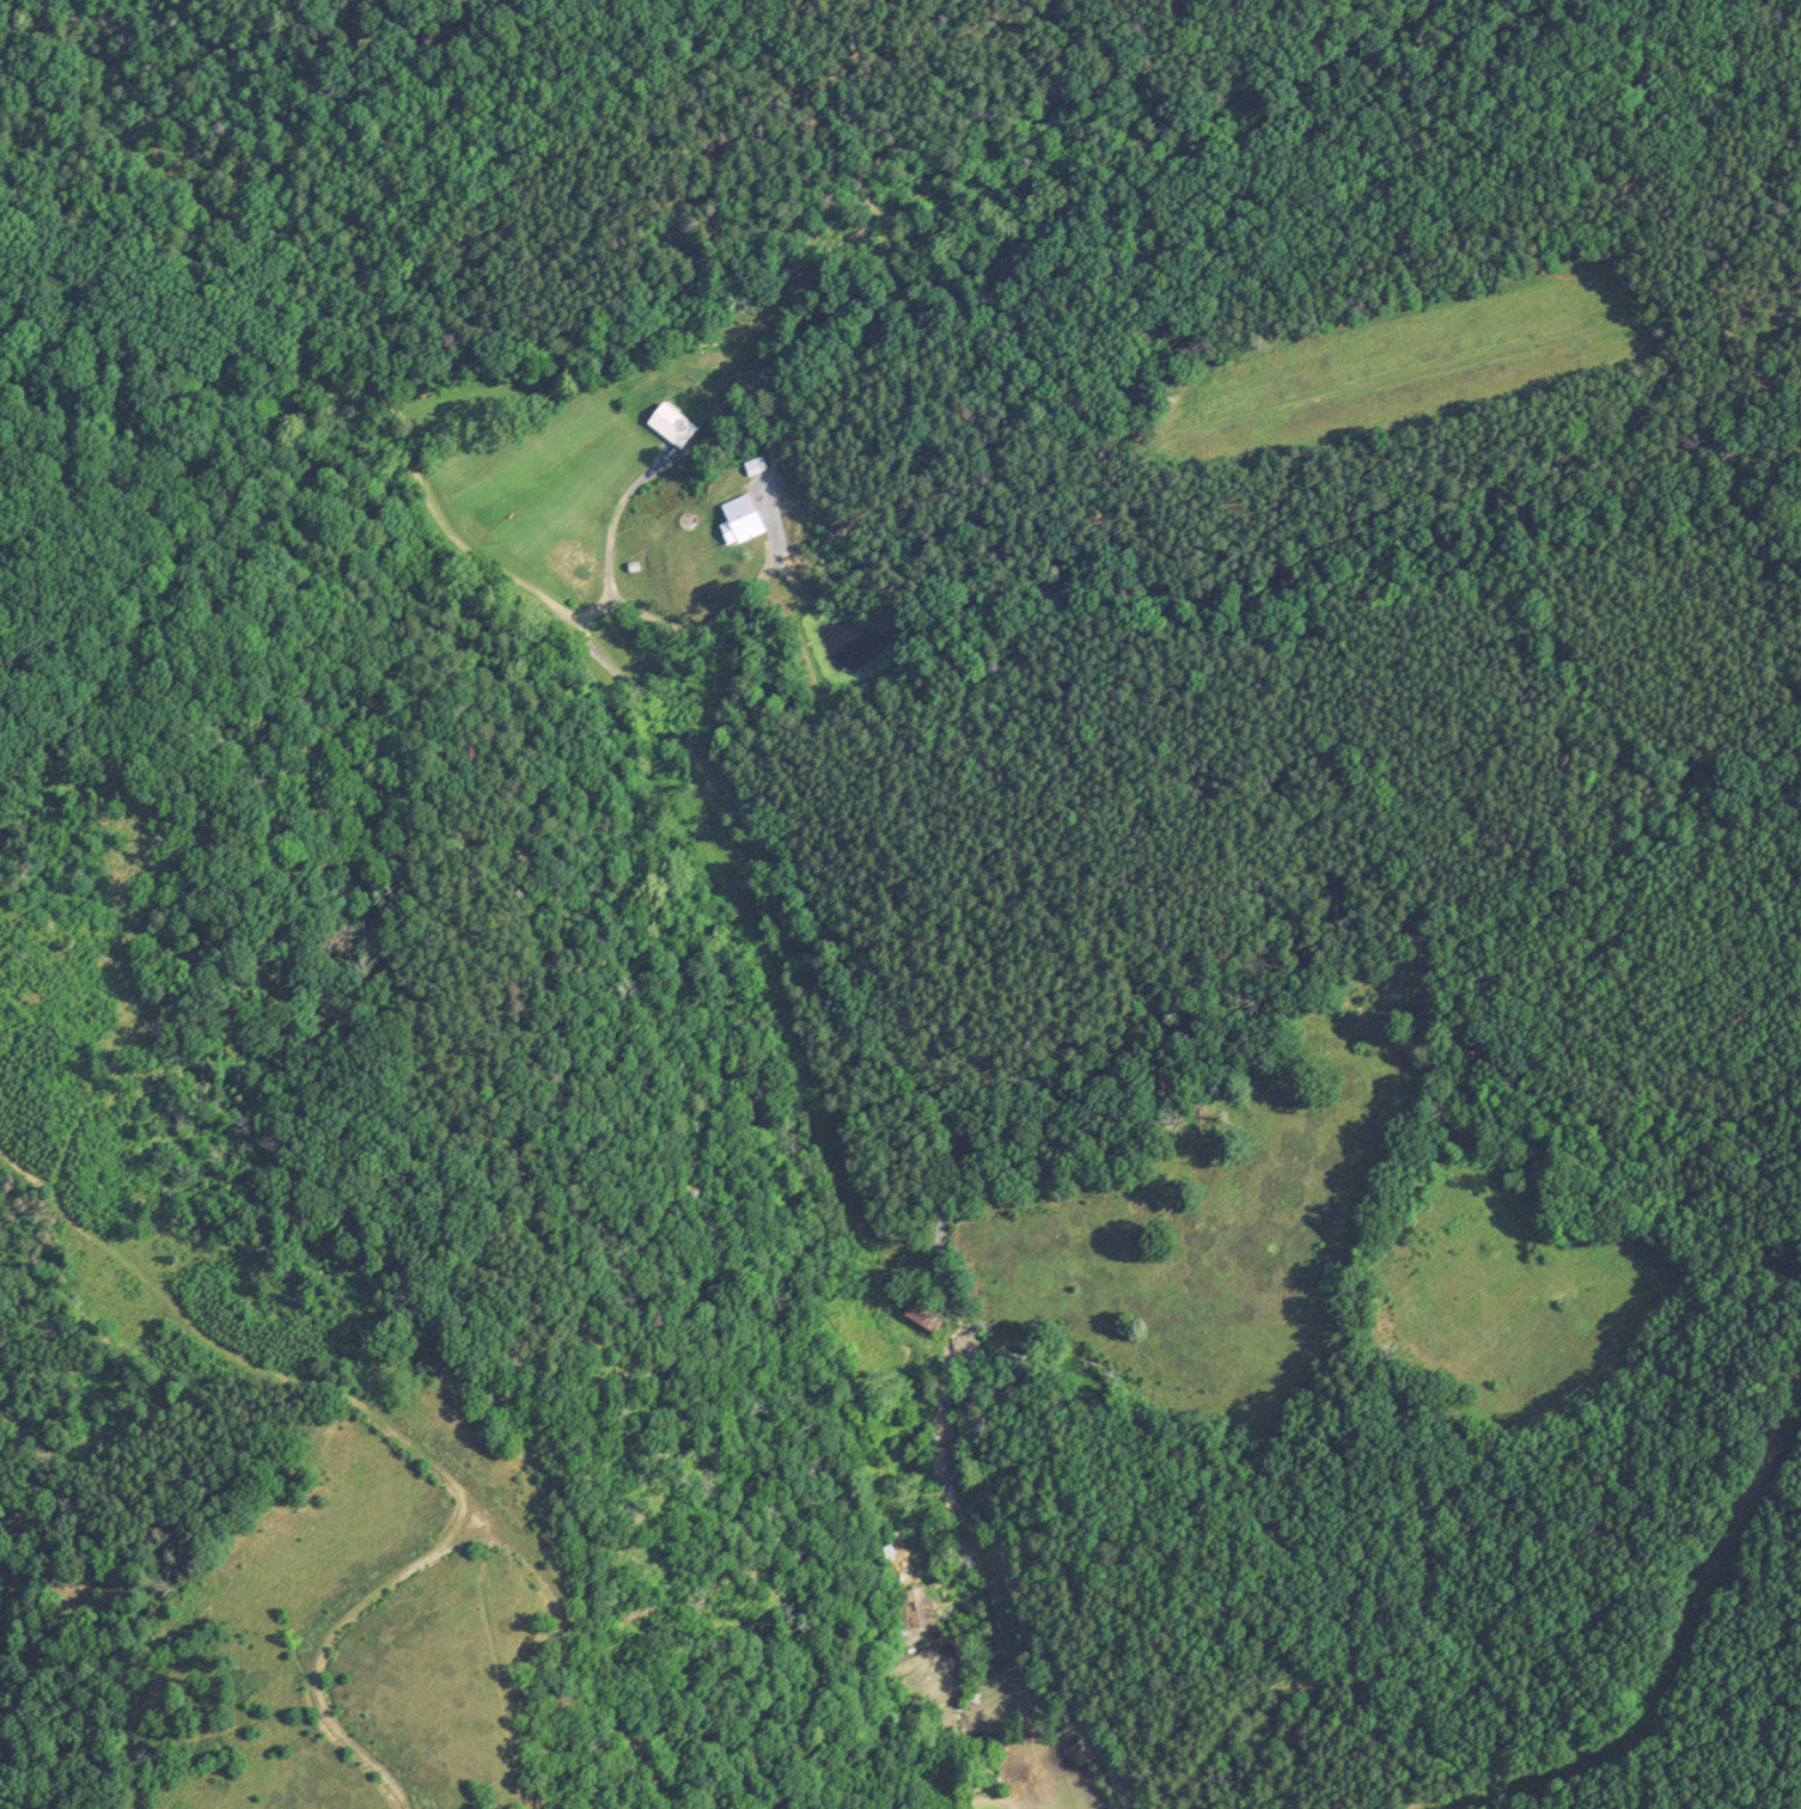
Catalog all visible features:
building: (757, 465)
building: (743, 520)
building: (588, 570)
road: (750, 823)
building: (921, 1314)
building: (916, 1609)

